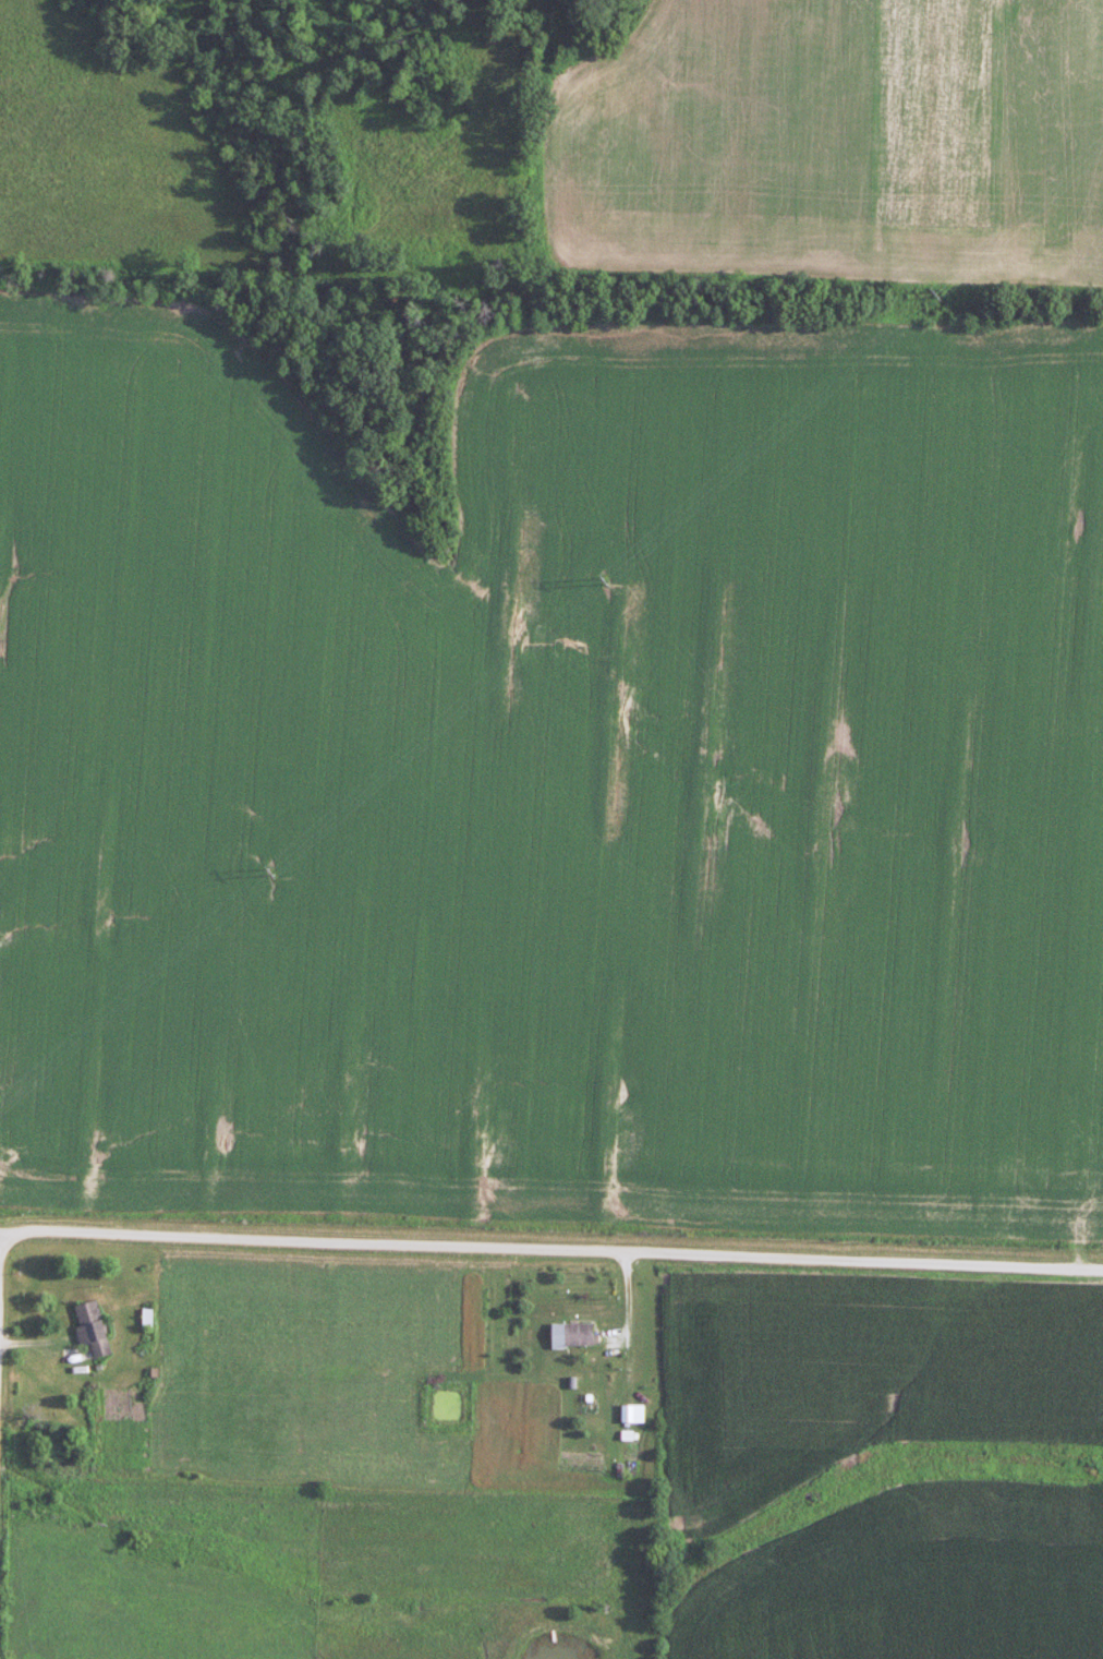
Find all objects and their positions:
road: (0, 1233)
road: (551, 1251)
road: (0, 1252)
building: (92, 1327)
building: (572, 1334)
road: (630, 1345)
building: (632, 1412)

